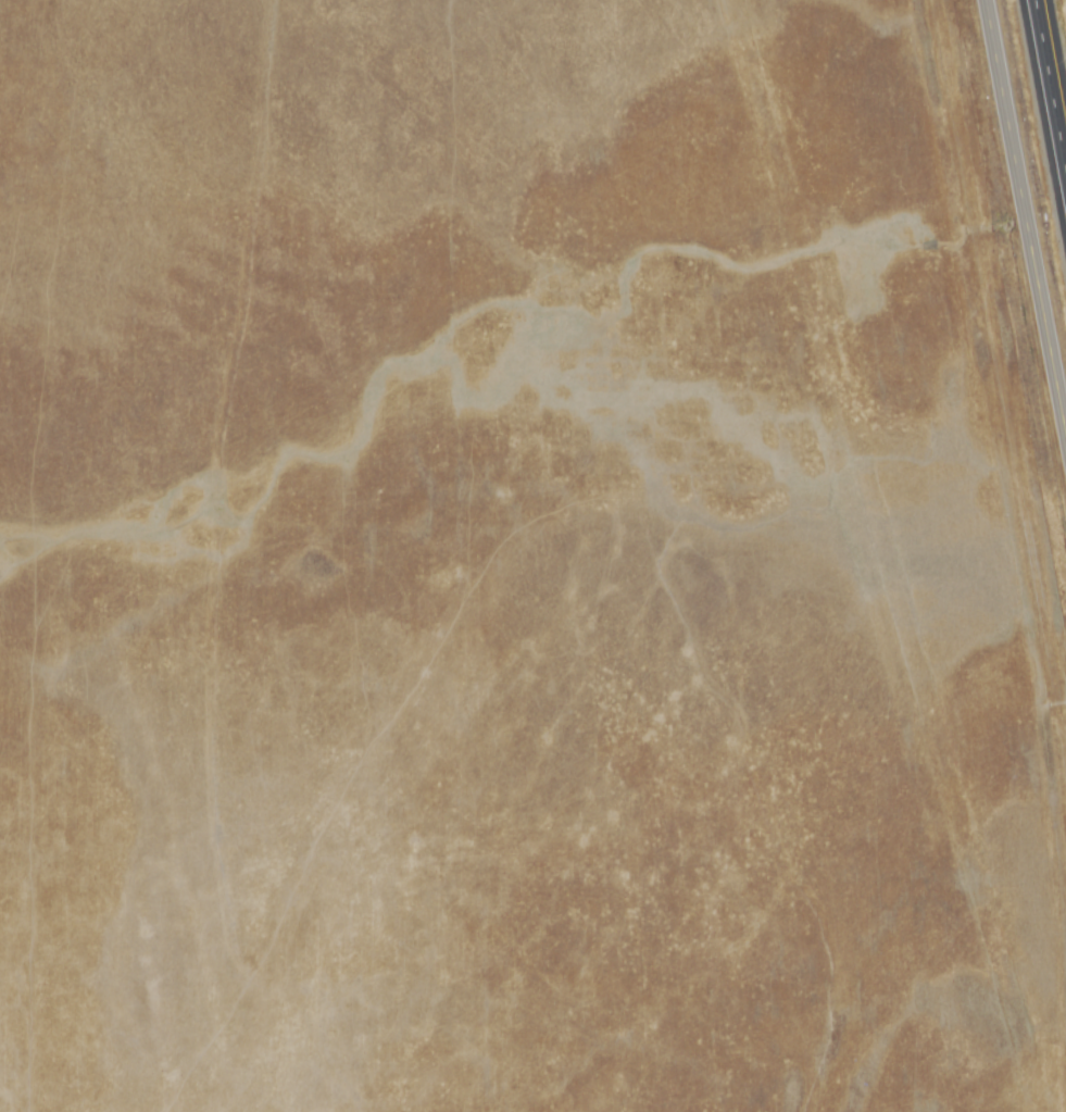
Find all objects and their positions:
road: (1049, 92)
road: (1023, 233)
railway: (1001, 392)

